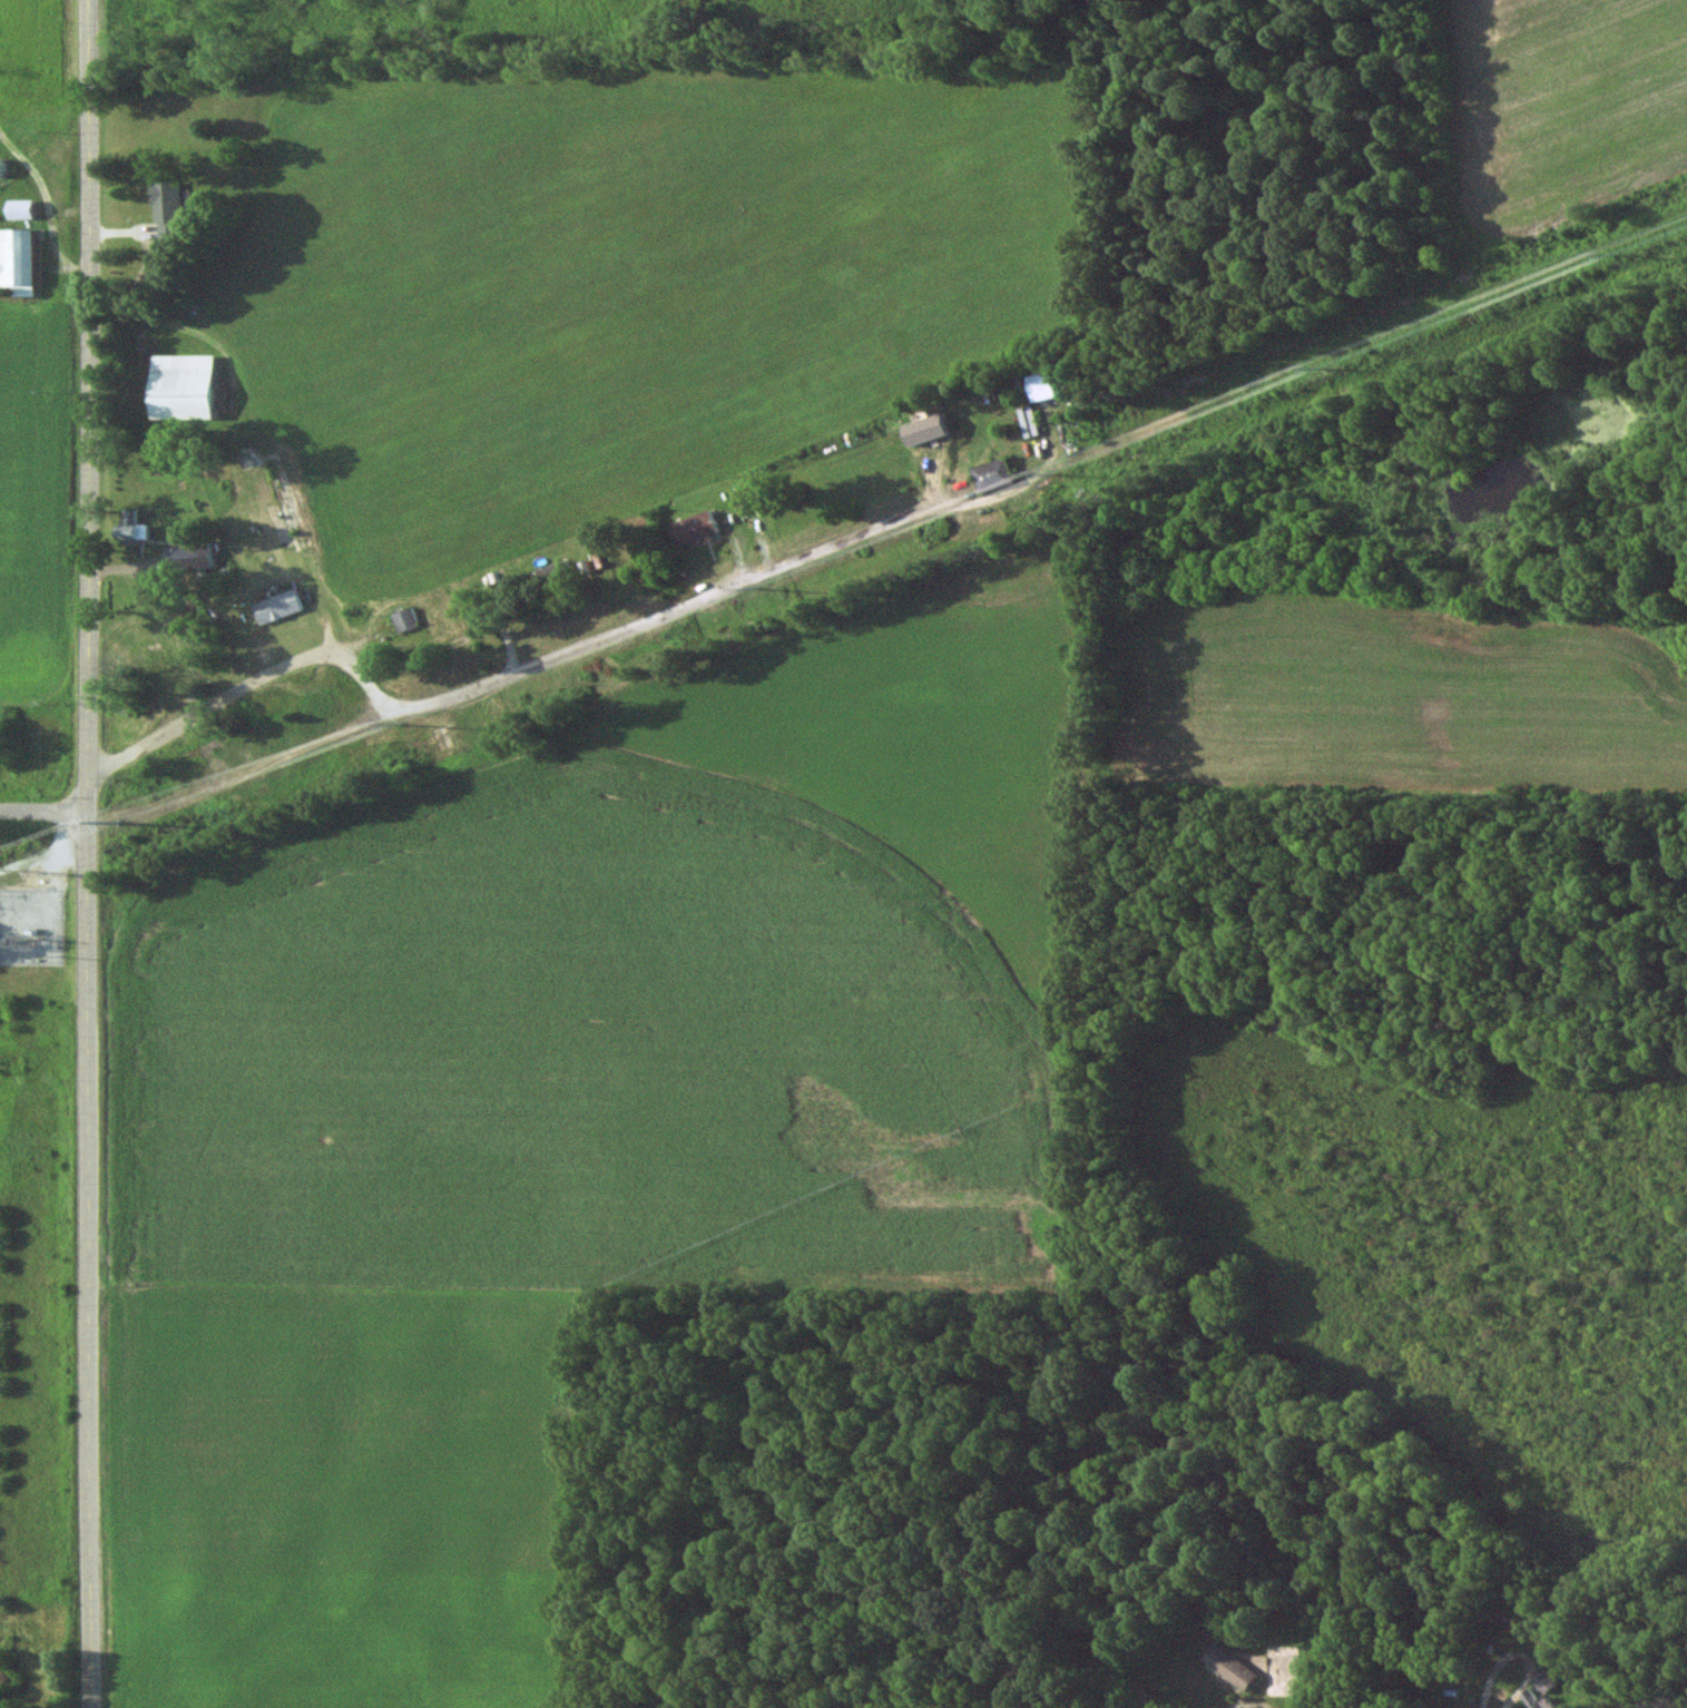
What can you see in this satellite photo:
building: (19, 210)
building: (166, 212)
building: (17, 261)
building: (1041, 386)
building: (180, 387)
building: (990, 475)
building: (740, 501)
building: (130, 529)
building: (692, 529)
building: (182, 559)
building: (551, 578)
building: (275, 608)
building: (403, 620)
building: (441, 647)
road: (474, 687)
building: (248, 744)
road: (43, 809)
road: (88, 853)
building: (1228, 1667)
building: (1536, 1698)

